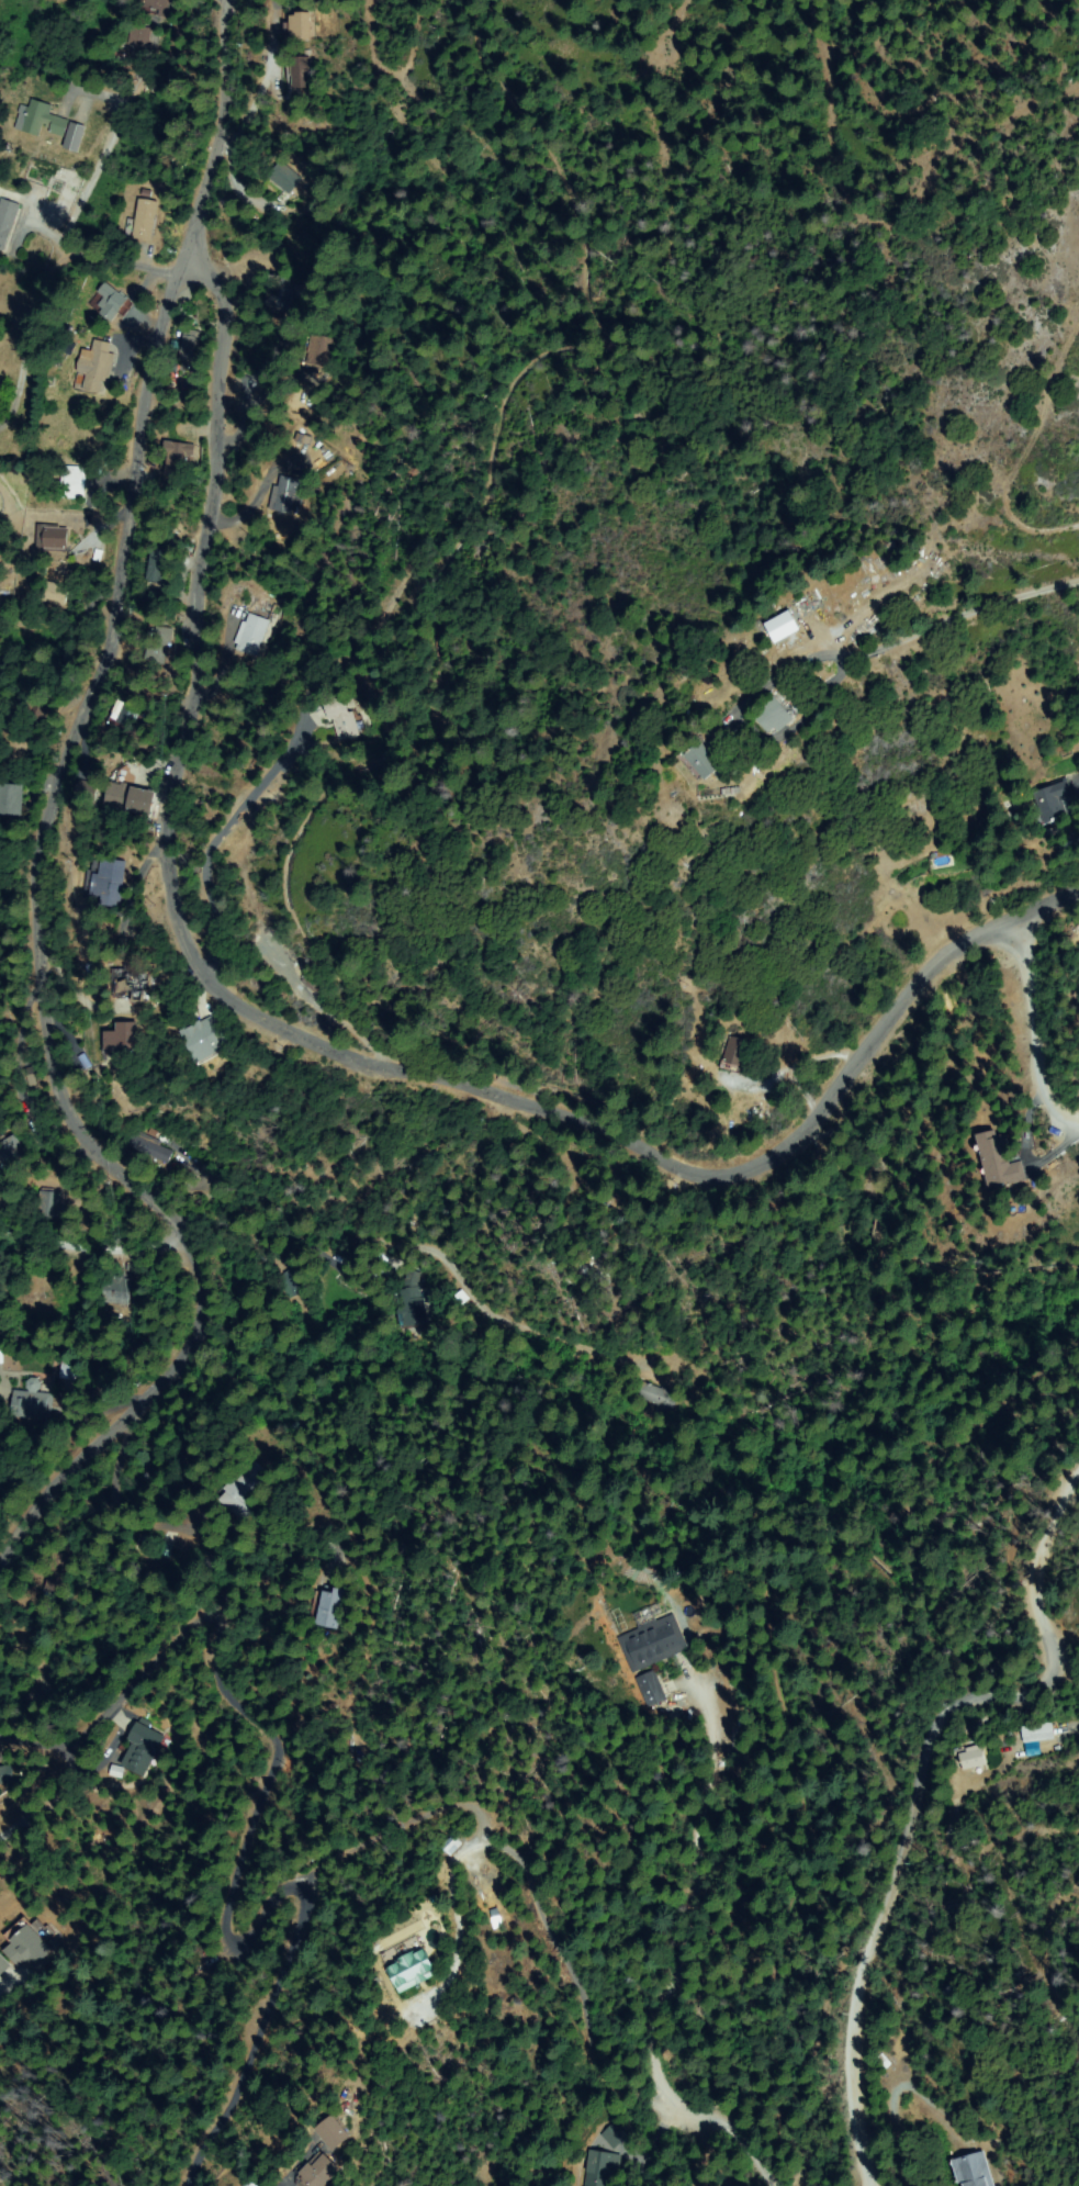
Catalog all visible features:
building: (157, 4)
building: (296, 27)
building: (139, 35)
building: (301, 76)
building: (41, 120)
building: (75, 138)
road: (109, 159)
road: (156, 176)
building: (284, 178)
building: (7, 221)
building: (146, 221)
building: (285, 292)
road: (25, 296)
building: (110, 301)
building: (66, 341)
building: (189, 346)
building: (319, 350)
building: (95, 366)
building: (175, 464)
building: (74, 484)
building: (289, 495)
building: (54, 540)
building: (157, 565)
building: (55, 594)
building: (778, 626)
building: (251, 634)
building: (158, 644)
building: (33, 713)
building: (125, 715)
building: (773, 716)
building: (344, 720)
building: (701, 760)
building: (83, 792)
building: (9, 799)
building: (128, 799)
building: (1053, 801)
building: (938, 854)
road: (43, 870)
building: (105, 882)
storage tank: (269, 945)
road: (948, 954)
road: (196, 957)
storage tank: (285, 963)
building: (133, 985)
road: (1031, 1029)
building: (120, 1038)
building: (205, 1040)
building: (735, 1055)
building: (83, 1063)
building: (146, 1147)
building: (10, 1152)
building: (998, 1163)
building: (50, 1204)
building: (880, 1232)
road: (126, 1249)
building: (596, 1262)
building: (291, 1282)
building: (113, 1291)
road: (973, 1292)
building: (461, 1298)
building: (411, 1302)
building: (1, 1356)
building: (71, 1369)
building: (33, 1386)
building: (99, 1391)
road: (301, 1392)
building: (656, 1400)
building: (32, 1405)
building: (241, 1490)
building: (164, 1549)
building: (56, 1573)
building: (329, 1608)
building: (651, 1644)
building: (649, 1689)
building: (1035, 1731)
road: (94, 1733)
road: (31, 1746)
building: (142, 1748)
building: (971, 1759)
building: (116, 1772)
building: (5, 1775)
road: (929, 1795)
road: (233, 1838)
building: (449, 1843)
road: (10, 1902)
building: (26, 1947)
building: (3, 1966)
building: (412, 1970)
building: (881, 2062)
building: (643, 2128)
building: (333, 2132)
building: (615, 2133)
building: (600, 2170)
building: (971, 2171)
building: (318, 2173)
building: (256, 2184)

